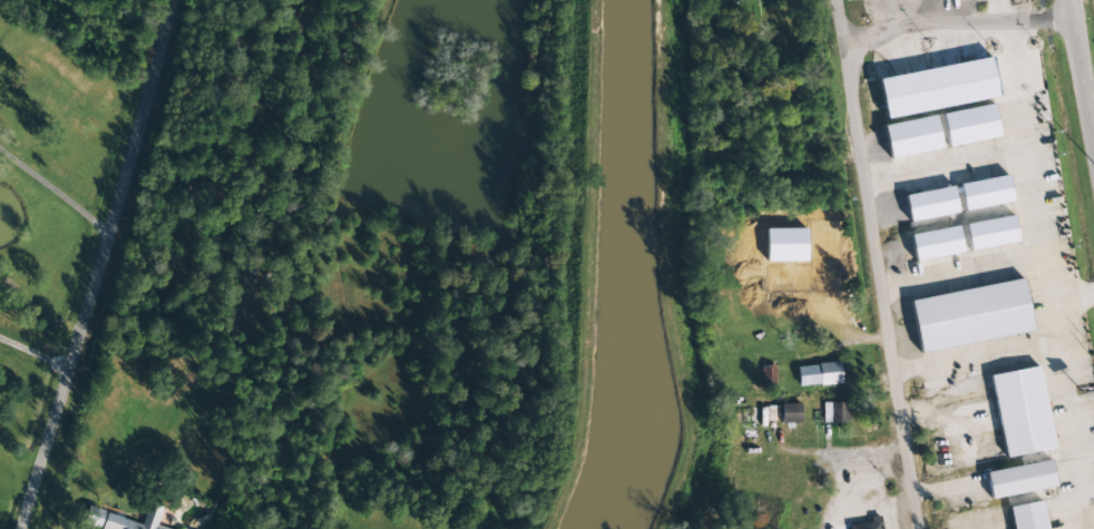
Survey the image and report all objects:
road: (954, 22)
road: (1080, 85)
building: (937, 88)
building: (969, 125)
building: (911, 137)
road: (1004, 149)
building: (985, 193)
building: (930, 204)
building: (990, 233)
building: (936, 243)
road: (1041, 245)
road: (100, 264)
road: (876, 264)
road: (961, 273)
building: (970, 315)
road: (35, 354)
road: (976, 359)
building: (819, 374)
building: (834, 412)
building: (1022, 412)
building: (790, 413)
road: (1071, 414)
building: (1019, 479)
road: (338, 512)
building: (1027, 516)
building: (124, 519)
building: (866, 523)
building: (182, 528)

